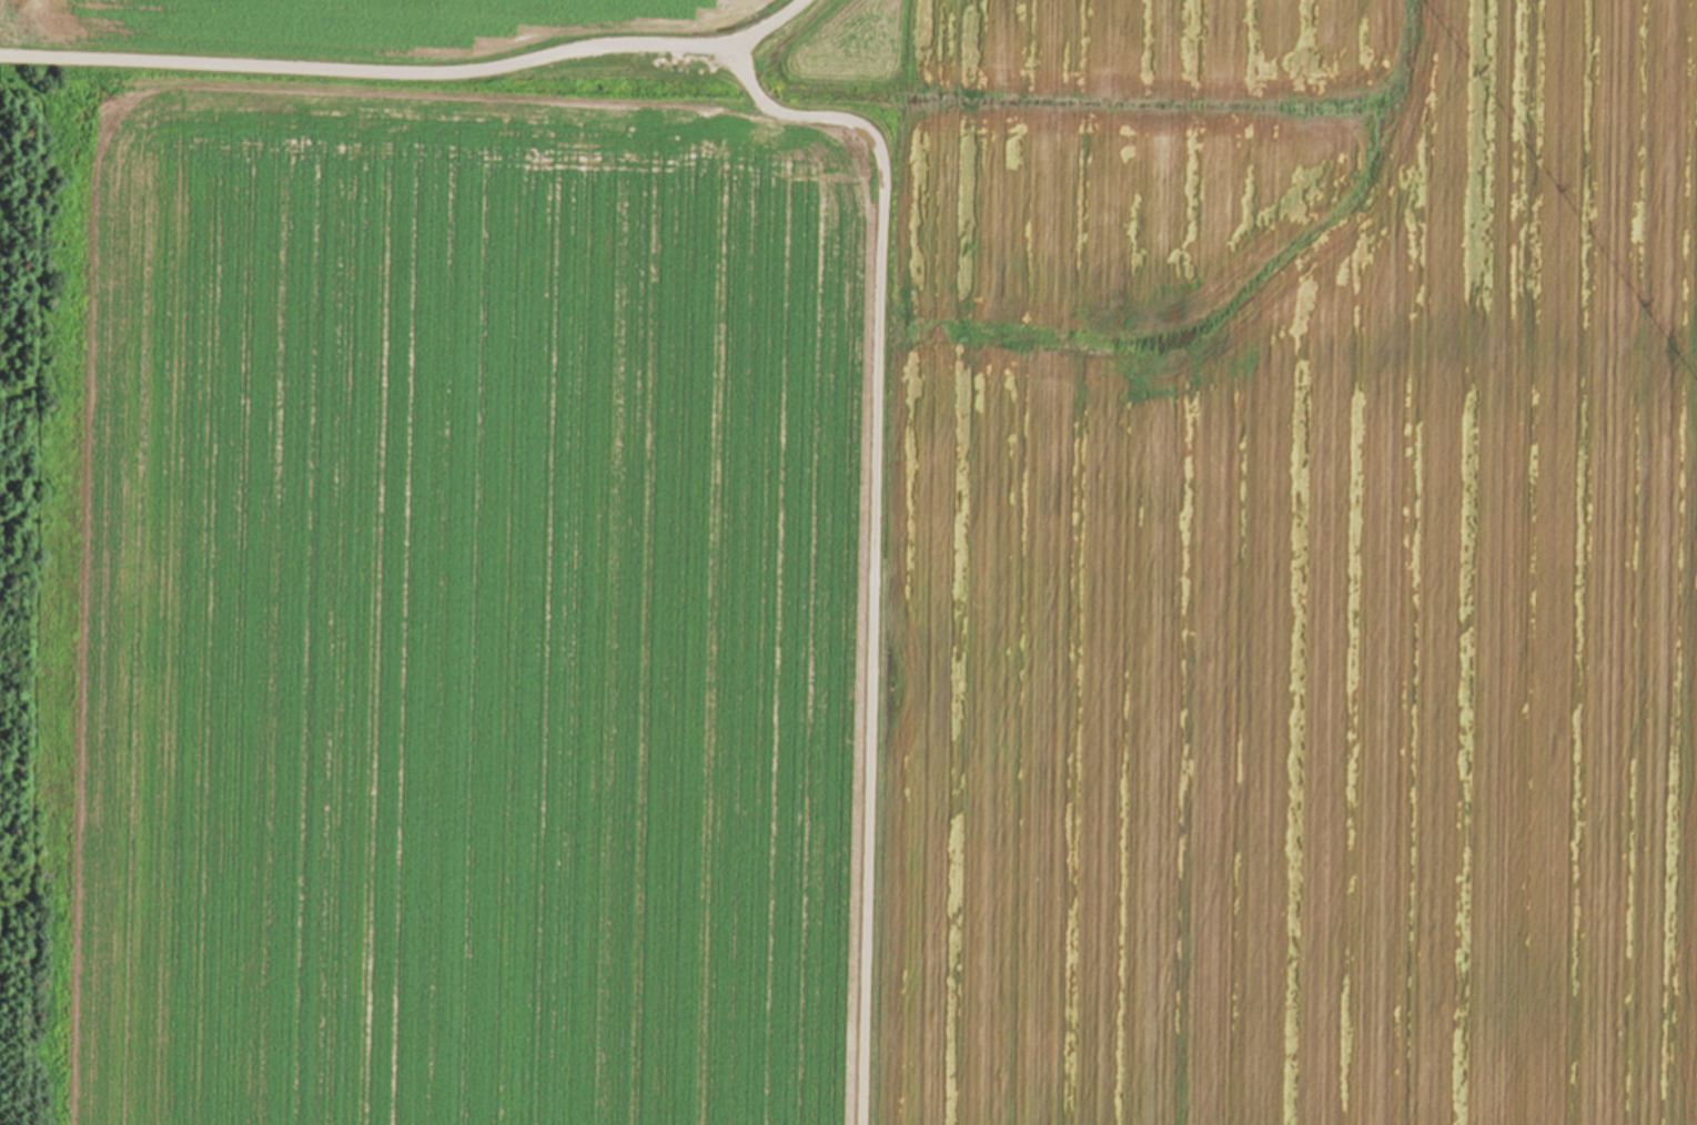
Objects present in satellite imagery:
road: (411, 73)
road: (875, 536)

